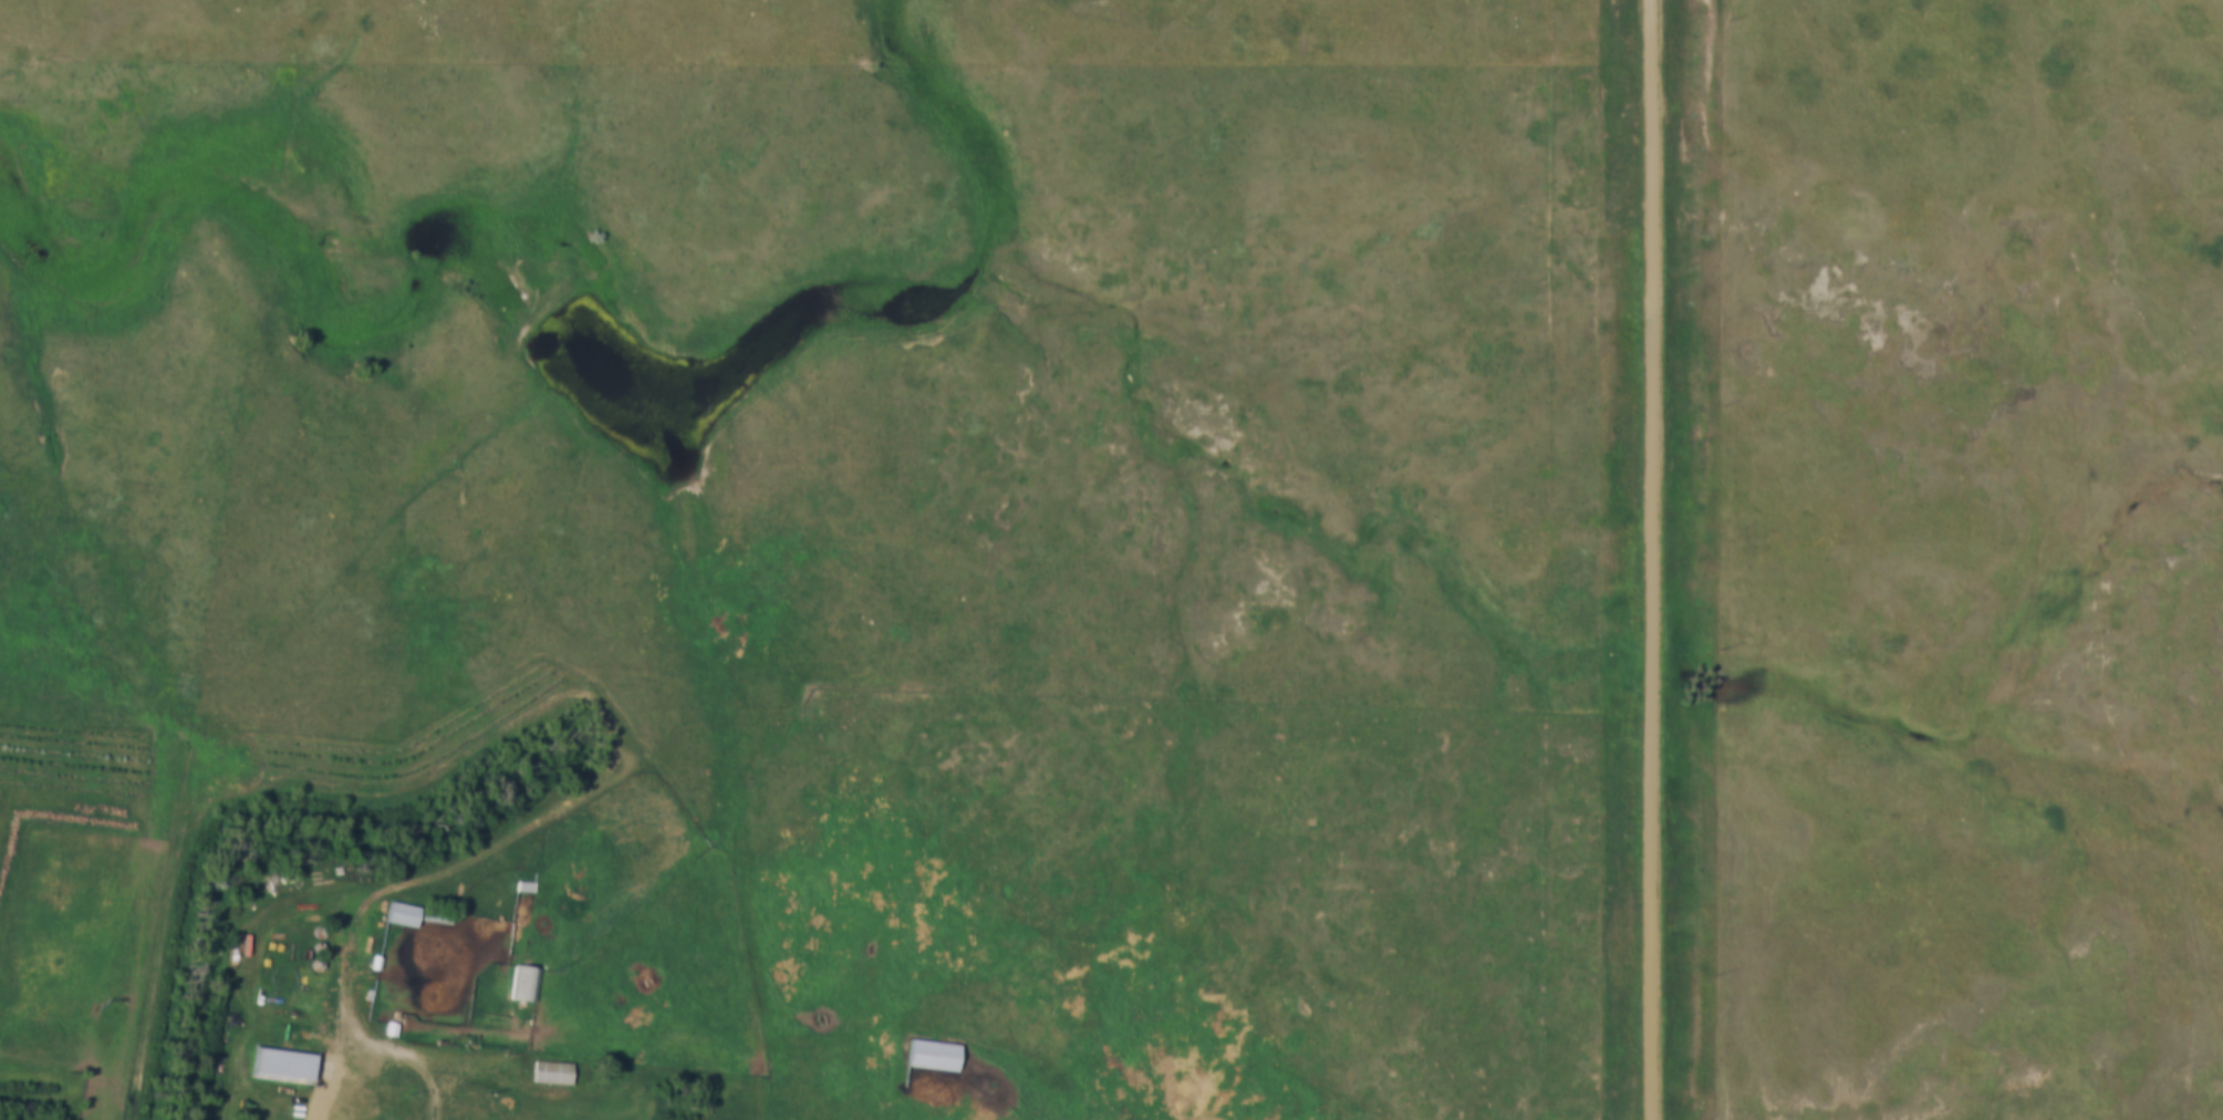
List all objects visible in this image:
road: (1654, 559)
building: (530, 890)
building: (419, 921)
building: (325, 935)
silo: (325, 935)
building: (381, 965)
building: (322, 971)
silo: (322, 971)
building: (526, 984)
building: (395, 1035)
building: (939, 1055)
building: (283, 1065)
building: (553, 1074)

